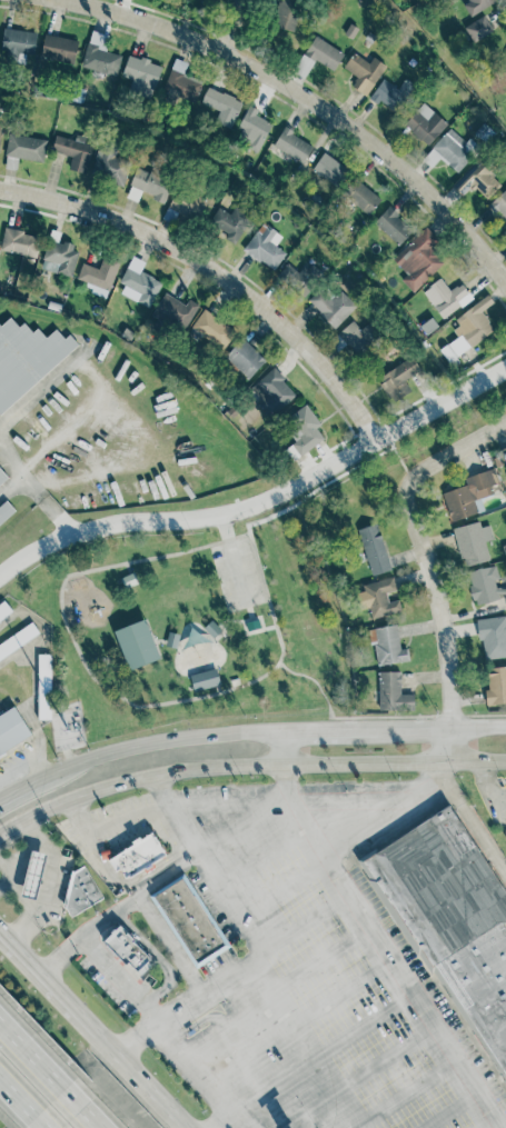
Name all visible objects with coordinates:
building: (286, 13)
road: (249, 28)
building: (477, 28)
building: (18, 44)
building: (58, 49)
building: (100, 54)
building: (317, 57)
building: (505, 58)
building: (364, 71)
building: (140, 76)
building: (180, 87)
road: (302, 93)
building: (390, 93)
building: (220, 107)
building: (425, 124)
building: (0, 128)
building: (251, 129)
building: (483, 132)
building: (292, 146)
building: (24, 147)
building: (450, 150)
building: (72, 152)
building: (109, 166)
building: (329, 170)
building: (477, 179)
building: (150, 184)
building: (360, 197)
building: (500, 203)
building: (187, 204)
building: (228, 222)
building: (393, 226)
building: (19, 242)
building: (265, 246)
building: (59, 258)
building: (417, 259)
building: (98, 274)
road: (215, 274)
building: (300, 277)
building: (139, 281)
building: (445, 297)
building: (331, 307)
building: (212, 329)
building: (467, 330)
building: (356, 337)
building: (27, 358)
building: (245, 358)
building: (398, 379)
road: (97, 380)
road: (42, 385)
building: (270, 391)
building: (301, 431)
road: (58, 438)
road: (11, 457)
road: (117, 462)
building: (2, 476)
road: (334, 480)
road: (37, 491)
building: (468, 495)
road: (264, 501)
building: (6, 510)
building: (472, 542)
building: (374, 549)
road: (235, 559)
road: (430, 565)
parking lot: (250, 570)
parking lot: (225, 578)
building: (130, 580)
building: (484, 585)
building: (378, 598)
building: (4, 609)
road: (260, 618)
building: (252, 625)
park: (194, 626)
road: (244, 628)
building: (212, 629)
road: (254, 629)
road: (221, 633)
building: (493, 636)
building: (18, 639)
building: (172, 640)
building: (137, 645)
building: (387, 646)
road: (143, 651)
road: (214, 668)
road: (211, 669)
building: (205, 680)
road: (314, 680)
building: (44, 686)
building: (496, 686)
road: (111, 689)
building: (393, 693)
road: (486, 713)
road: (450, 715)
road: (383, 716)
road: (441, 728)
building: (12, 729)
road: (329, 730)
road: (166, 739)
road: (281, 748)
road: (247, 766)
road: (438, 768)
road: (284, 775)
road: (28, 785)
building: (502, 785)
gas station: (502, 785)
road: (486, 788)
road: (408, 797)
road: (289, 798)
parking lot: (120, 806)
parking lot: (498, 817)
road: (251, 818)
road: (116, 822)
road: (472, 825)
parking lot: (126, 832)
parking lot: (75, 838)
road: (305, 840)
road: (27, 852)
building: (138, 856)
road: (147, 871)
building: (33, 875)
gas station: (33, 875)
road: (10, 880)
road: (227, 885)
parking lot: (60, 890)
road: (46, 891)
building: (80, 892)
road: (346, 897)
road: (23, 900)
building: (177, 901)
road: (122, 906)
parking lot: (214, 908)
building: (453, 916)
road: (306, 922)
road: (369, 934)
road: (251, 935)
road: (376, 935)
building: (200, 937)
road: (169, 942)
road: (266, 947)
building: (130, 949)
road: (161, 958)
road: (388, 961)
parking lot: (218, 962)
road: (37, 967)
parking lot: (312, 975)
parking lot: (108, 987)
parking lot: (428, 987)
road: (276, 989)
road: (409, 995)
road: (297, 1017)
road: (430, 1027)
road: (169, 1032)
road: (185, 1044)
road: (321, 1049)
road: (454, 1062)
road: (33, 1064)
road: (137, 1065)
road: (208, 1071)
parking lot: (186, 1074)
road: (353, 1079)
road: (475, 1096)
road: (397, 1097)
road: (21, 1104)
road: (80, 1114)
road: (222, 1114)
road: (446, 1114)
parking lot: (238, 1125)
road: (496, 1126)
road: (42, 1127)

